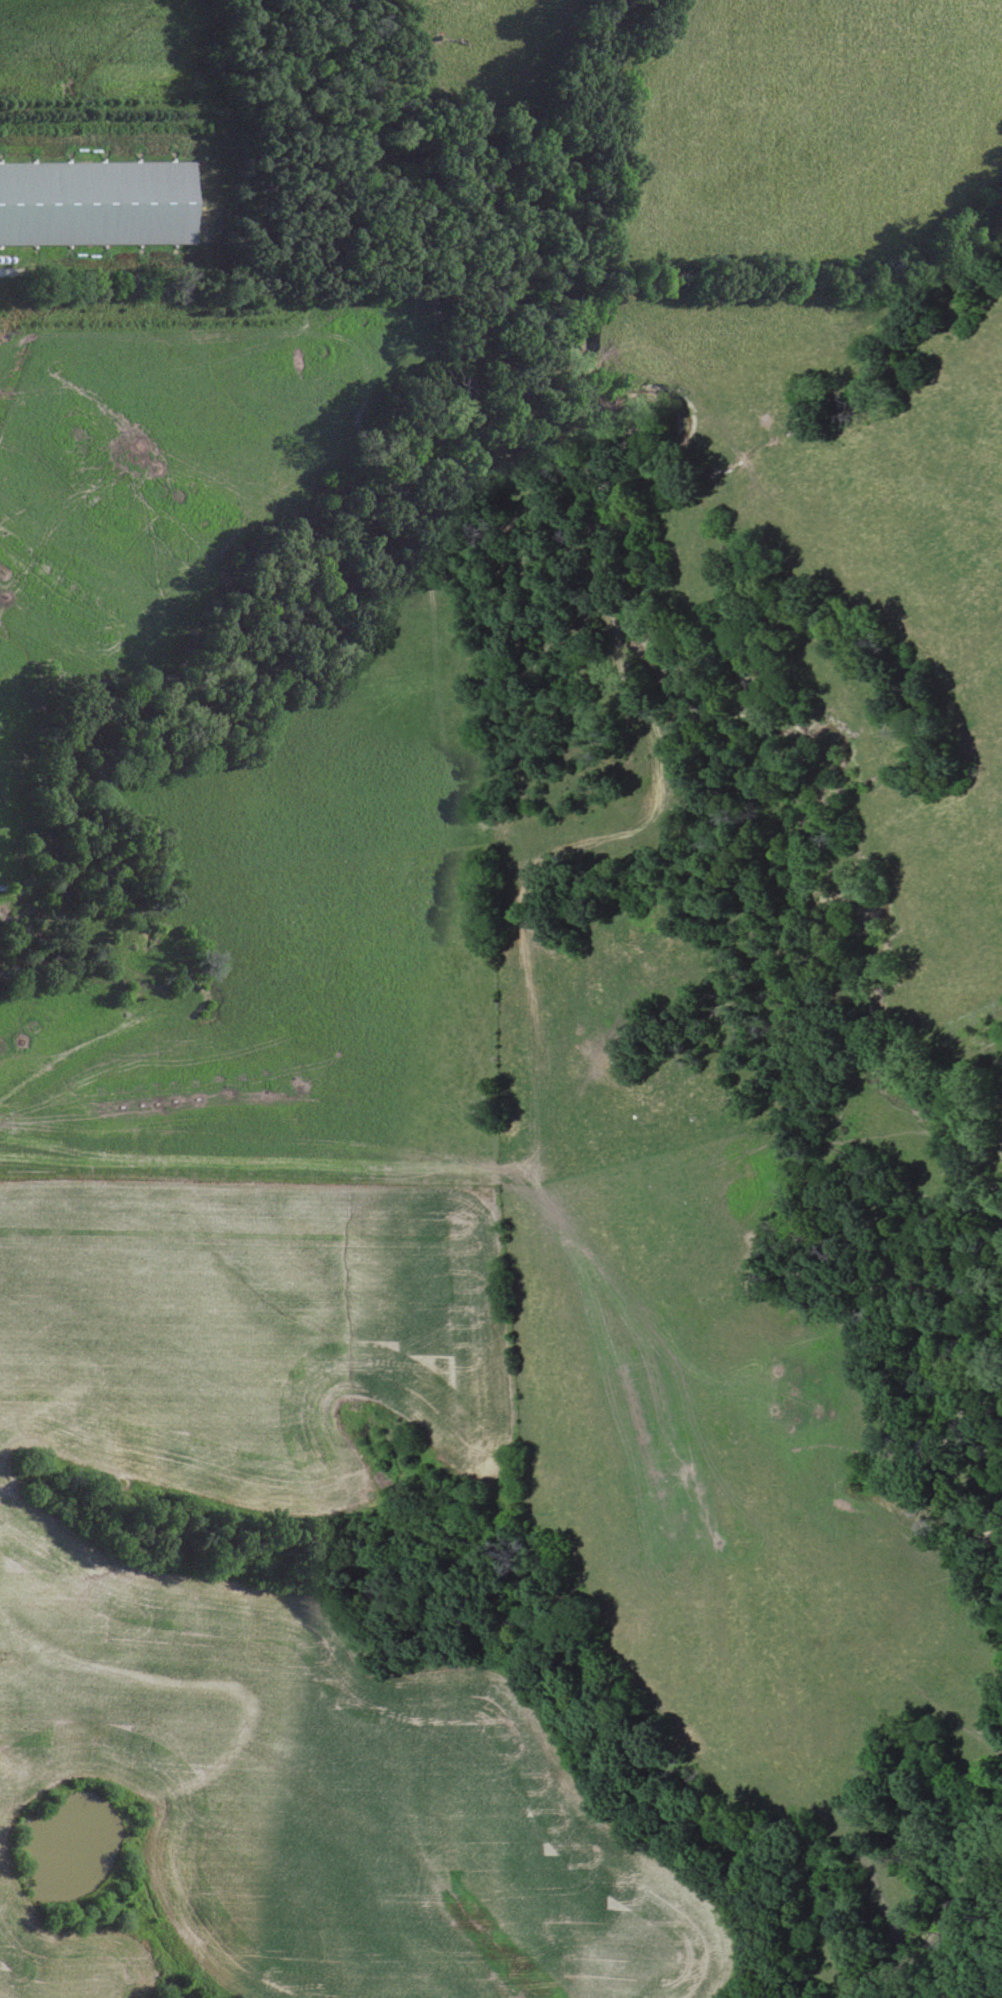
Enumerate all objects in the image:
building: (96, 202)

